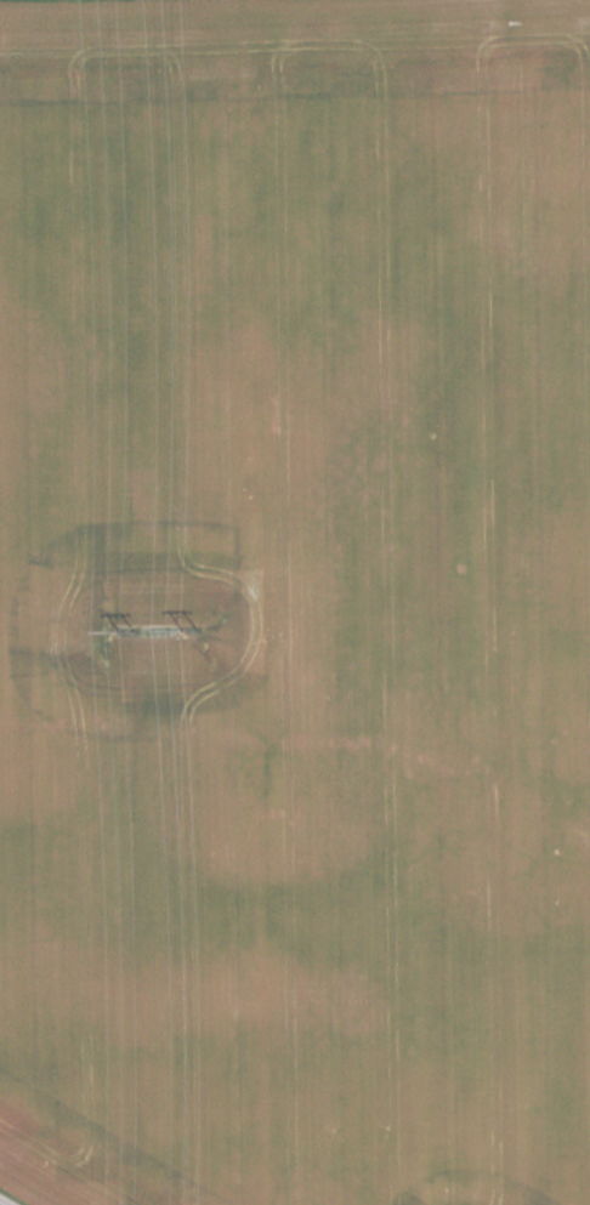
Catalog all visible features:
power tower: (187, 625)
power tower: (124, 626)

